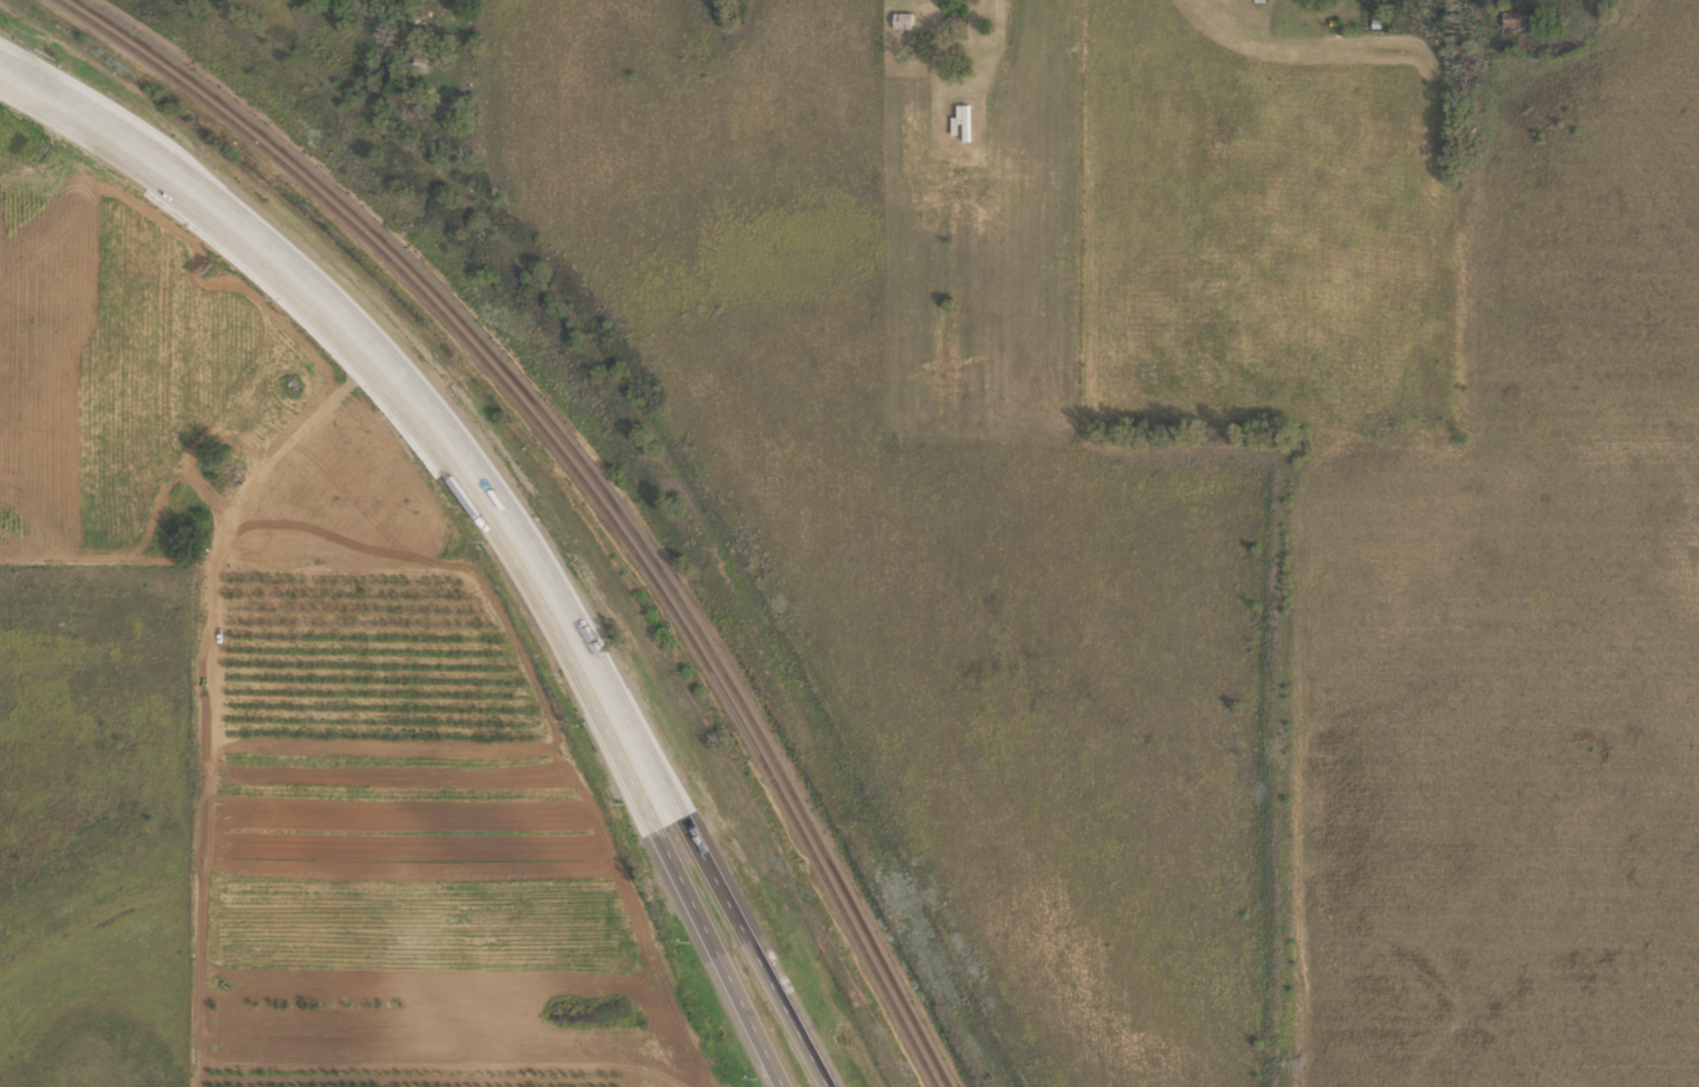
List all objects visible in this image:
building: (903, 21)
building: (962, 120)
road: (340, 311)
railway: (574, 473)
railway: (597, 477)
road: (716, 867)
road: (682, 871)

